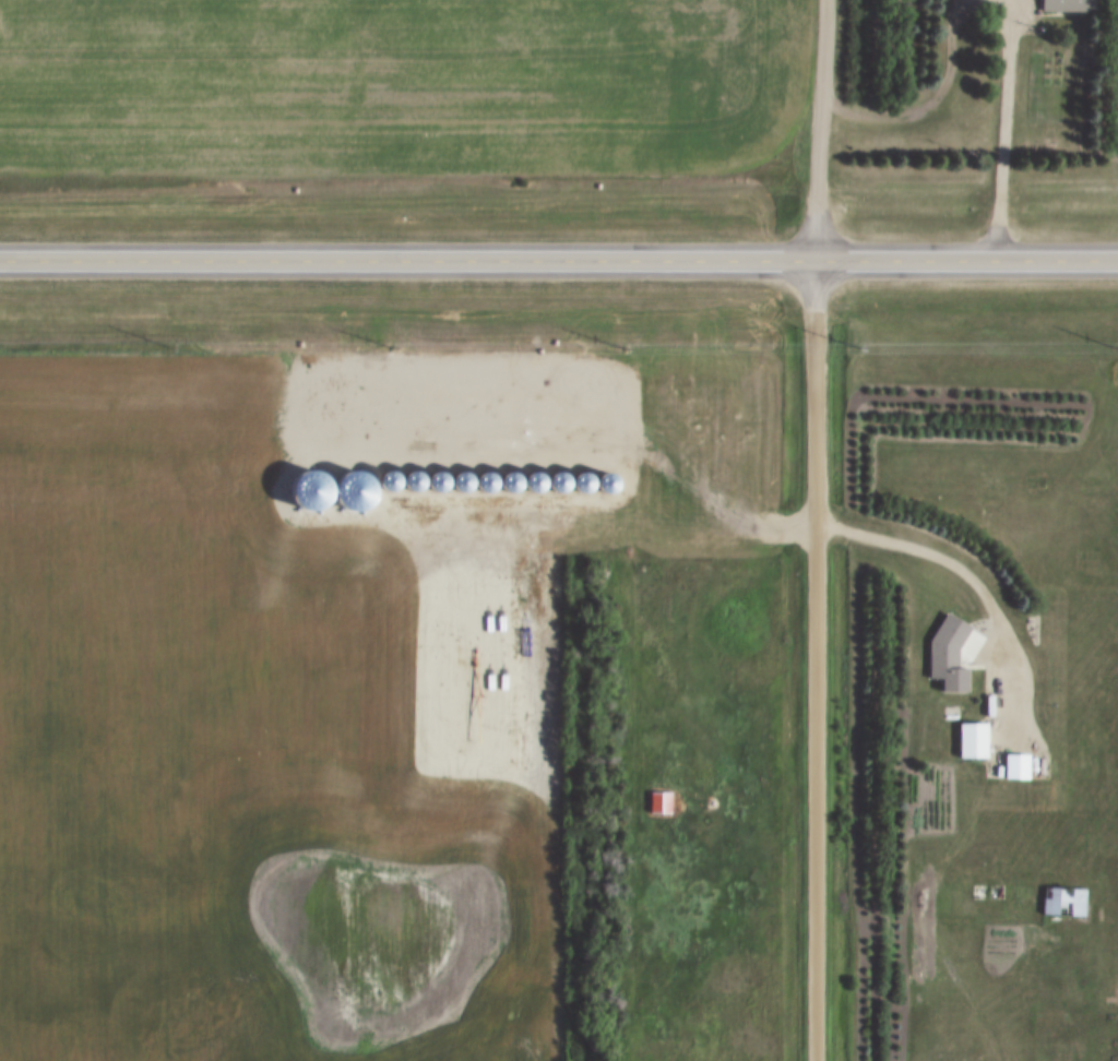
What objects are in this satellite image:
building: (1066, 3)
road: (1004, 130)
road: (559, 260)
building: (508, 477)
silo: (508, 477)
building: (532, 477)
silo: (532, 477)
building: (556, 477)
silo: (556, 477)
building: (581, 477)
silo: (581, 477)
building: (606, 477)
silo: (606, 477)
building: (389, 478)
silo: (389, 478)
building: (413, 478)
silo: (413, 478)
building: (436, 478)
silo: (436, 478)
building: (460, 478)
silo: (460, 478)
building: (484, 478)
silo: (484, 478)
road: (814, 529)
road: (975, 585)
road: (691, 618)
building: (945, 651)
building: (972, 737)
building: (1014, 763)
building: (659, 801)
building: (1060, 898)

